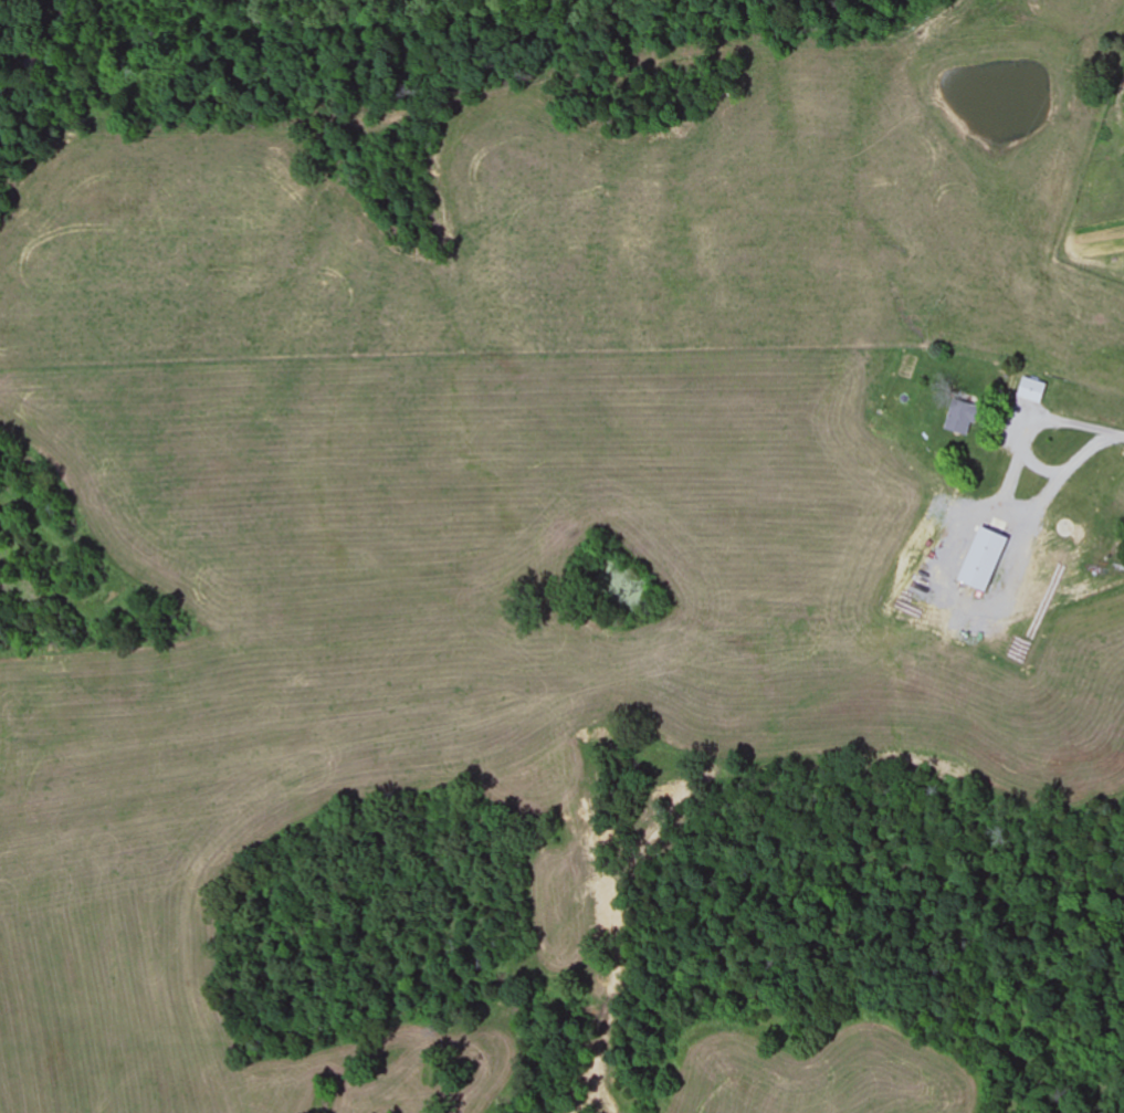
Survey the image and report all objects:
building: (967, 419)
road: (1089, 431)
building: (1016, 471)
building: (1074, 529)
building: (1017, 561)

